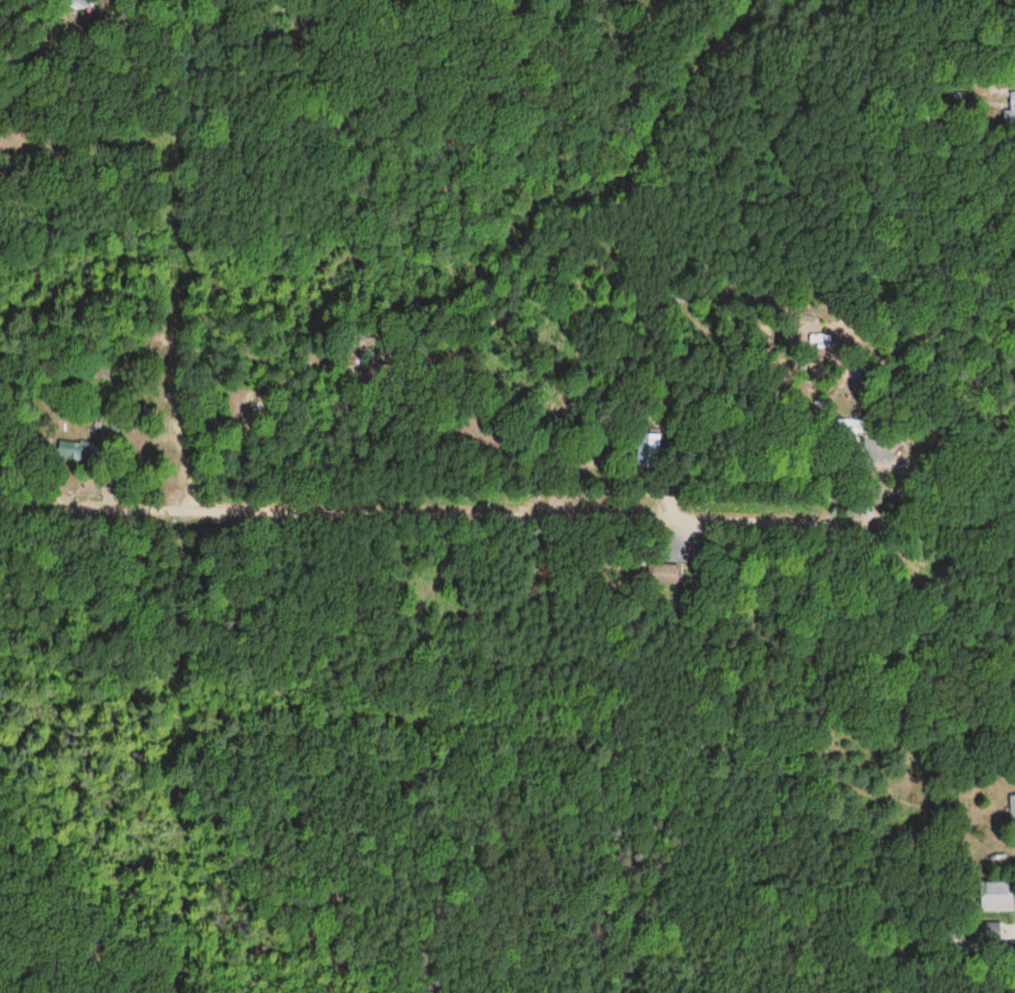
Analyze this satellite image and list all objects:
road: (69, 107)
building: (1010, 110)
building: (72, 450)
building: (648, 450)
road: (507, 512)
building: (662, 574)
building: (1012, 808)
building: (994, 895)

